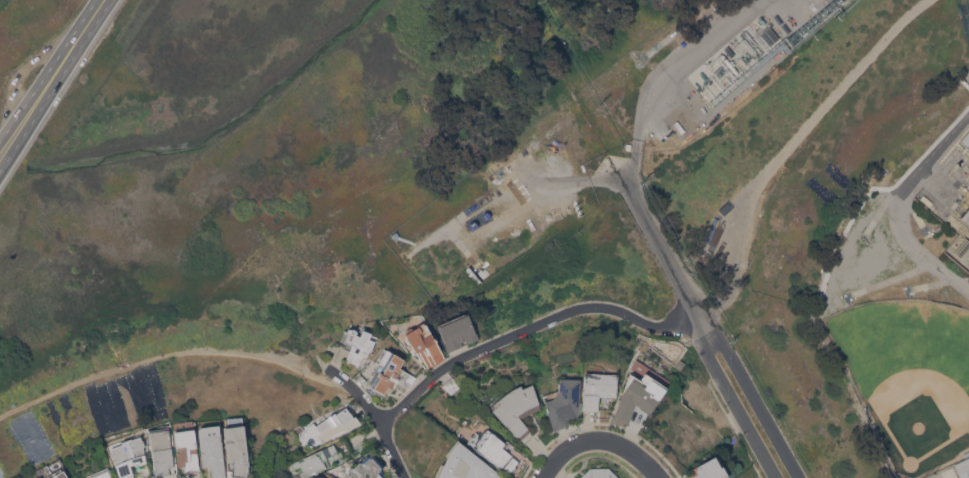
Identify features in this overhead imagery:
building: (774, 16)
building: (782, 28)
road: (53, 77)
road: (661, 81)
road: (801, 135)
building: (966, 138)
road: (511, 185)
road: (896, 204)
building: (965, 216)
building: (961, 246)
road: (667, 259)
building: (968, 262)
road: (704, 305)
building: (457, 331)
building: (424, 344)
road: (495, 344)
building: (358, 345)
road: (167, 357)
building: (679, 364)
building: (389, 373)
building: (451, 385)
park: (907, 385)
park: (911, 386)
building: (595, 388)
building: (703, 394)
building: (636, 396)
building: (562, 403)
road: (759, 405)
building: (515, 409)
road: (738, 409)
building: (329, 426)
building: (874, 429)
road: (622, 445)
building: (160, 450)
building: (185, 450)
building: (211, 450)
building: (493, 450)
building: (235, 451)
road: (396, 452)
building: (966, 453)
building: (126, 454)
building: (320, 458)
road: (556, 458)
building: (463, 464)
building: (963, 466)
building: (365, 468)
building: (706, 470)
building: (597, 473)
building: (56, 474)
building: (99, 474)
building: (896, 476)
building: (316, 477)
building: (319, 477)

